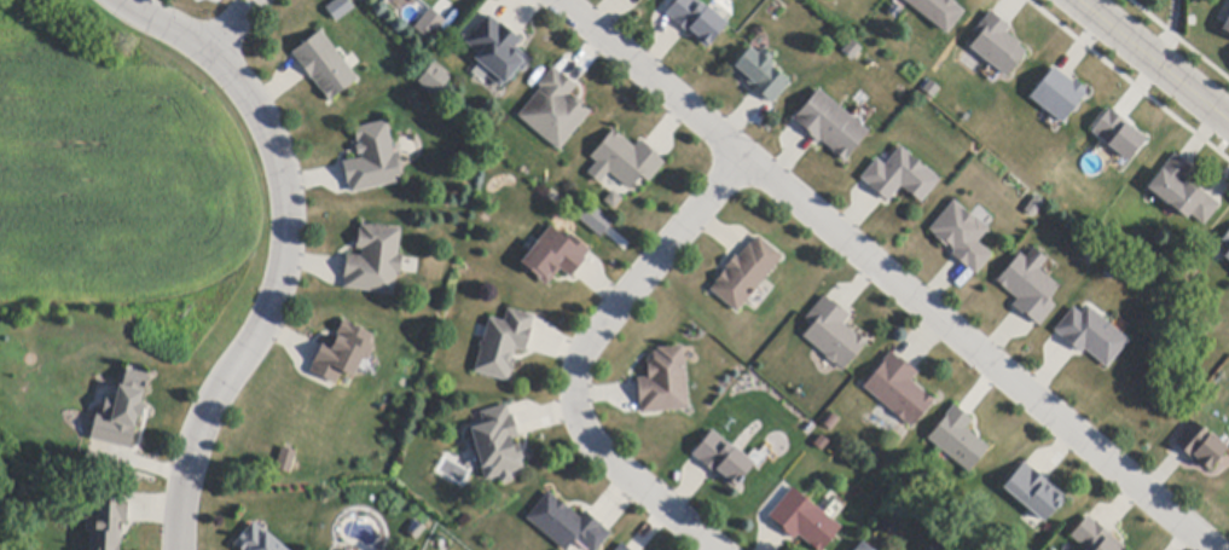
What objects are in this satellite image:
building: (416, 1)
building: (338, 7)
building: (938, 12)
building: (697, 21)
building: (427, 22)
road: (233, 27)
building: (1227, 27)
building: (997, 45)
building: (852, 50)
building: (498, 51)
road: (1150, 63)
building: (325, 66)
building: (761, 75)
building: (434, 80)
building: (1059, 95)
building: (555, 110)
building: (831, 126)
building: (1117, 133)
building: (373, 160)
building: (624, 161)
building: (900, 176)
crop: (123, 186)
building: (1183, 192)
building: (593, 218)
building: (962, 237)
building: (1225, 247)
road: (285, 251)
building: (555, 256)
building: (375, 261)
building: (746, 274)
road: (887, 274)
building: (1030, 286)
building: (833, 334)
building: (1091, 336)
building: (504, 346)
road: (580, 352)
building: (343, 353)
building: (665, 383)
building: (899, 390)
building: (123, 413)
building: (830, 422)
building: (958, 440)
building: (497, 445)
building: (1201, 446)
building: (285, 461)
building: (724, 461)
building: (1033, 493)
building: (830, 504)
building: (109, 521)
building: (805, 521)
building: (568, 525)
building: (1095, 537)
building: (256, 540)
building: (622, 548)
building: (863, 548)

